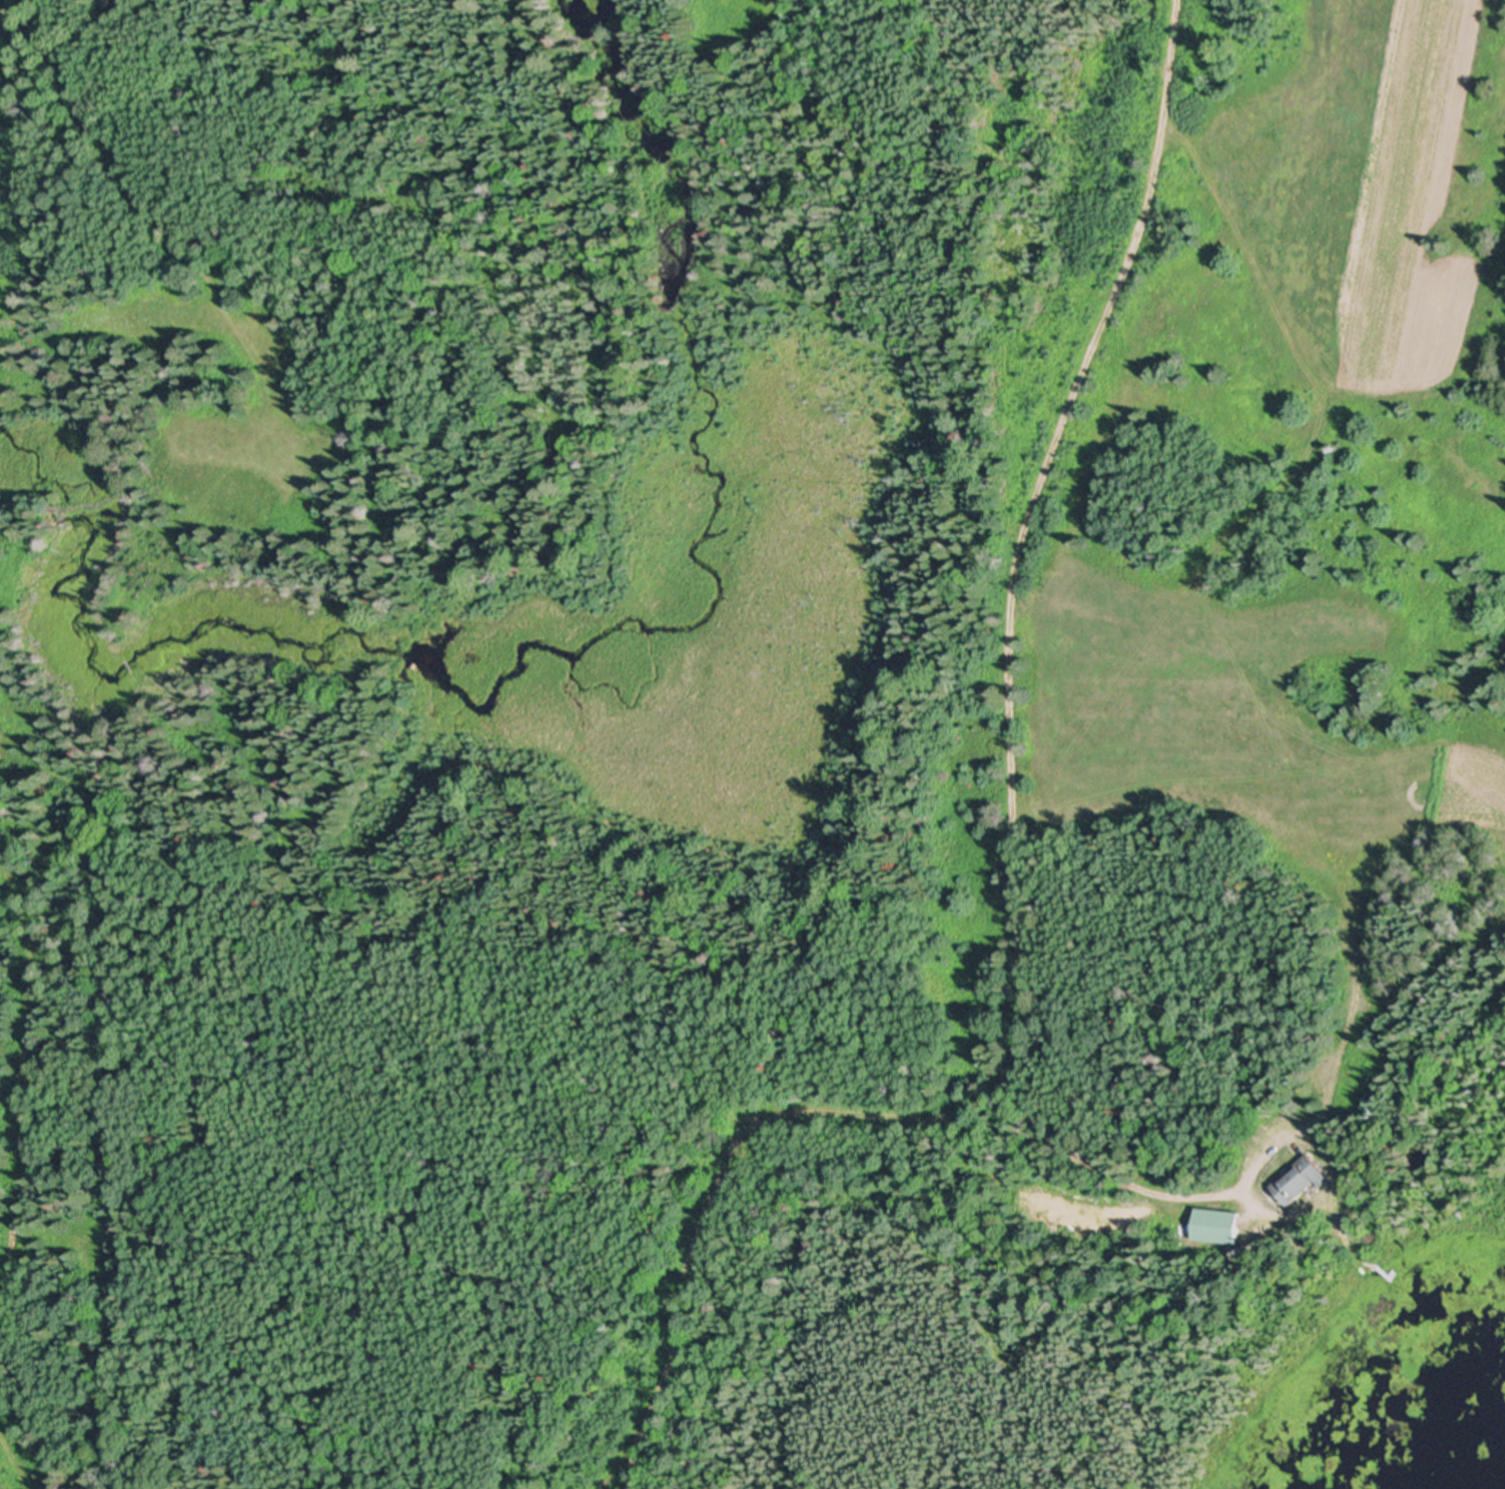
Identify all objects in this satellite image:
road: (1004, 861)
building: (1307, 1182)
road: (1124, 1192)
building: (1219, 1228)

